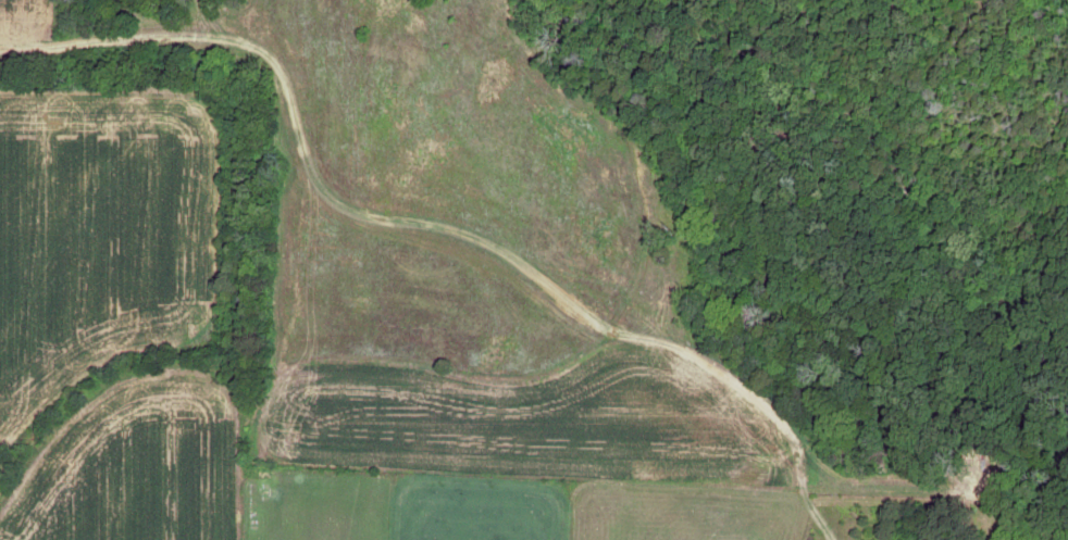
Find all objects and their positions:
road: (704, 289)
road: (110, 478)

